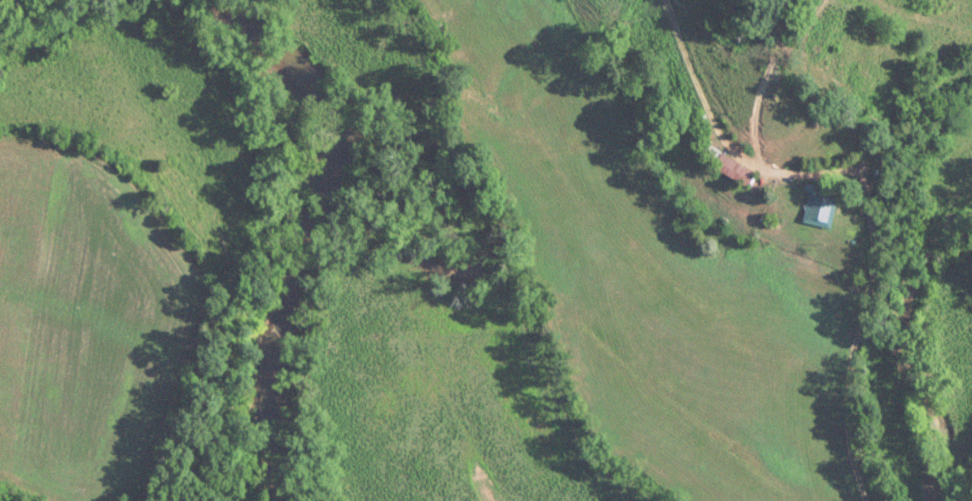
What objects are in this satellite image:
building: (725, 168)
road: (866, 190)
building: (818, 210)

